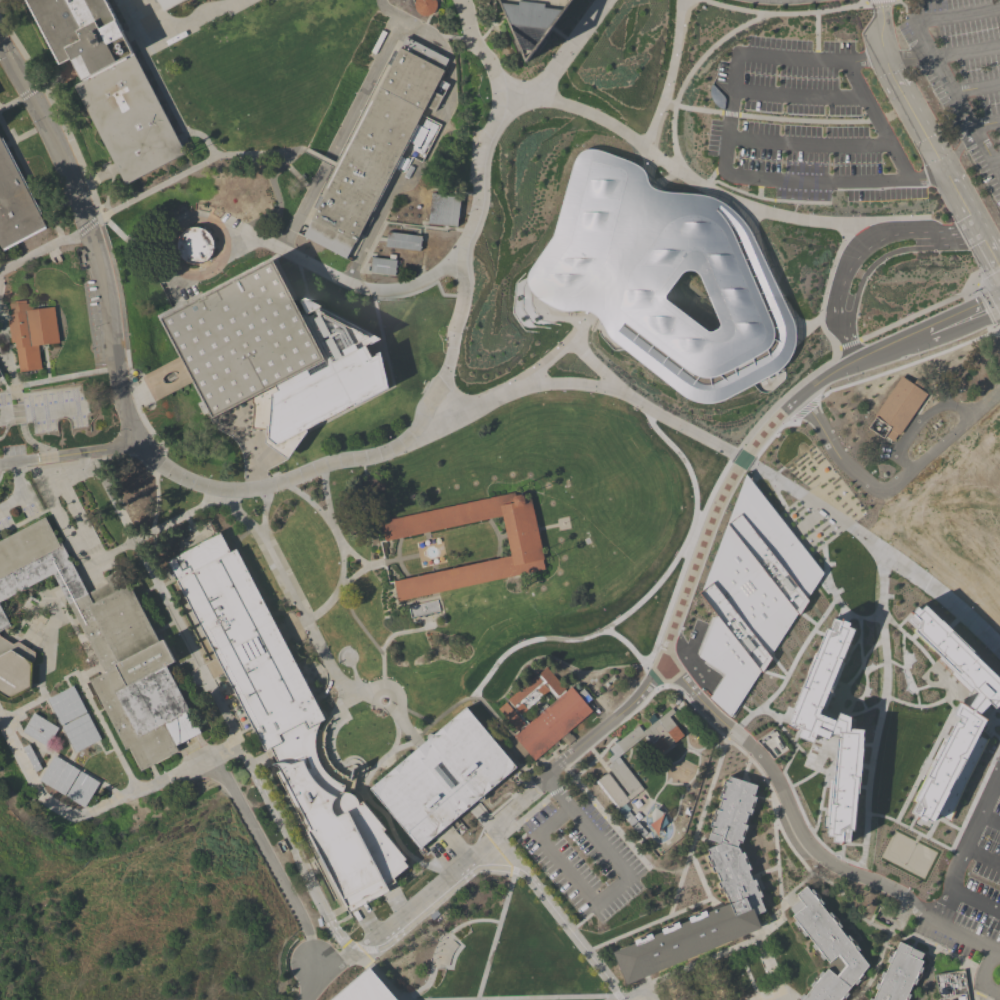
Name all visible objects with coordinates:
building: (169, 3)
road: (870, 4)
building: (423, 6)
road: (903, 8)
road: (775, 13)
road: (429, 15)
road: (125, 17)
road: (188, 21)
building: (530, 21)
road: (490, 23)
road: (498, 23)
road: (409, 26)
street lamp: (458, 33)
road: (815, 35)
road: (437, 37)
road: (468, 38)
road: (104, 46)
road: (96, 52)
road: (967, 52)
road: (937, 62)
road: (557, 66)
road: (690, 73)
parking lot: (962, 74)
building: (109, 83)
road: (41, 87)
road: (977, 89)
road: (798, 91)
road: (18, 98)
street lamp: (484, 99)
road: (168, 101)
street lamp: (537, 117)
road: (769, 117)
road: (914, 117)
road: (876, 121)
parking lot: (806, 122)
road: (986, 124)
road: (181, 136)
road: (807, 145)
building: (376, 146)
road: (267, 151)
road: (725, 152)
road: (320, 157)
road: (277, 158)
road: (996, 160)
road: (25, 170)
road: (93, 178)
road: (164, 181)
road: (273, 188)
road: (722, 191)
road: (463, 193)
building: (16, 203)
street lamp: (190, 208)
building: (443, 209)
street lamp: (217, 215)
street lamp: (164, 218)
road: (296, 220)
road: (86, 224)
road: (112, 226)
road: (434, 228)
road: (446, 228)
road: (460, 229)
road: (102, 230)
road: (277, 230)
road: (242, 233)
road: (59, 234)
road: (91, 238)
road: (252, 240)
building: (403, 240)
road: (625, 240)
building: (194, 245)
road: (162, 247)
road: (987, 248)
road: (861, 250)
road: (37, 252)
road: (166, 252)
street lamp: (44, 255)
road: (422, 255)
road: (877, 260)
building: (383, 265)
street lamp: (14, 271)
road: (391, 276)
building: (672, 277)
street lamp: (445, 279)
road: (406, 281)
road: (304, 286)
road: (824, 286)
street lamp: (468, 291)
road: (440, 293)
street lamp: (413, 297)
street lamp: (513, 299)
street lamp: (2, 302)
road: (988, 304)
road: (5, 316)
street lamp: (9, 321)
street lamp: (6, 324)
road: (6, 328)
street lamp: (94, 329)
road: (928, 331)
building: (31, 332)
road: (2, 334)
road: (7, 336)
street lamp: (442, 340)
road: (170, 343)
road: (10, 346)
road: (375, 347)
building: (273, 355)
road: (4, 363)
road: (46, 363)
road: (450, 363)
road: (13, 367)
building: (0, 371)
road: (178, 372)
road: (71, 376)
road: (863, 378)
road: (180, 381)
road: (7, 387)
road: (605, 389)
road: (15, 391)
parking lot: (4, 400)
road: (354, 405)
building: (899, 405)
parking lot: (52, 407)
road: (37, 411)
road: (442, 415)
road: (919, 417)
road: (10, 425)
street lamp: (114, 433)
road: (748, 435)
street lamp: (389, 438)
parking lot: (12, 450)
road: (88, 452)
road: (81, 457)
road: (91, 460)
road: (18, 461)
road: (683, 461)
road: (160, 462)
street lamp: (297, 464)
road: (14, 469)
road: (364, 469)
road: (4, 470)
street lamp: (211, 477)
street lamp: (159, 482)
building: (370, 484)
road: (876, 488)
park: (131, 489)
road: (21, 492)
road: (54, 492)
road: (324, 493)
road: (155, 500)
road: (71, 505)
road: (818, 506)
road: (54, 510)
parking lot: (20, 516)
road: (263, 517)
road: (177, 518)
street lamp: (149, 521)
flagpole: (563, 524)
road: (443, 526)
road: (493, 526)
road: (191, 528)
road: (534, 529)
road: (76, 532)
road: (503, 536)
road: (509, 536)
road: (240, 537)
road: (427, 537)
building: (980, 538)
building: (948, 545)
road: (341, 546)
road: (398, 547)
building: (525, 548)
road: (498, 550)
fountain: (431, 553)
road: (99, 555)
road: (354, 555)
building: (196, 556)
road: (403, 559)
road: (441, 559)
building: (36, 561)
road: (434, 568)
road: (692, 569)
road: (403, 571)
road: (358, 572)
road: (454, 572)
road: (89, 574)
road: (60, 590)
road: (147, 590)
road: (291, 591)
road: (648, 591)
building: (751, 594)
street lamp: (37, 600)
road: (406, 604)
road: (39, 605)
road: (169, 607)
building: (423, 609)
road: (35, 612)
road: (33, 614)
road: (820, 616)
road: (427, 617)
road: (37, 618)
road: (355, 618)
building: (3, 620)
street lamp: (432, 621)
road: (33, 622)
street lamp: (423, 622)
road: (49, 624)
road: (36, 625)
street lamp: (25, 626)
road: (165, 626)
road: (293, 626)
road: (44, 629)
road: (45, 630)
road: (6, 634)
road: (49, 634)
street lamp: (177, 635)
road: (390, 637)
road: (37, 638)
road: (553, 638)
road: (27, 639)
road: (37, 640)
road: (81, 640)
road: (32, 641)
road: (31, 645)
road: (47, 646)
road: (45, 654)
road: (927, 657)
road: (187, 660)
building: (14, 667)
road: (211, 669)
road: (532, 669)
building: (134, 673)
road: (595, 685)
road: (35, 686)
street lamp: (404, 687)
street lamp: (81, 691)
street lamp: (334, 692)
road: (504, 699)
road: (34, 700)
street lamp: (210, 700)
street lamp: (482, 700)
road: (372, 701)
building: (66, 705)
road: (340, 706)
road: (674, 710)
building: (952, 711)
road: (490, 712)
road: (395, 713)
building: (544, 713)
road: (416, 715)
road: (879, 715)
road: (772, 717)
road: (397, 719)
road: (707, 721)
road: (100, 723)
street lamp: (413, 726)
road: (656, 726)
street lamp: (224, 727)
building: (40, 729)
building: (290, 729)
road: (61, 730)
road: (408, 730)
building: (832, 731)
building: (80, 732)
road: (646, 733)
road: (331, 737)
road: (639, 737)
road: (606, 738)
street lamp: (721, 738)
road: (607, 744)
parking lot: (189, 745)
road: (405, 745)
road: (685, 747)
road: (654, 750)
road: (39, 752)
road: (103, 752)
road: (682, 752)
street lamp: (793, 753)
street lamp: (405, 755)
road: (628, 756)
building: (31, 757)
street lamp: (115, 757)
road: (596, 758)
building: (612, 758)
road: (696, 758)
road: (60, 759)
road: (925, 759)
road: (258, 760)
road: (556, 760)
road: (360, 762)
road: (537, 763)
street lamp: (745, 764)
road: (360, 767)
road: (746, 769)
road: (43, 770)
street lamp: (164, 772)
road: (269, 772)
road: (577, 772)
building: (59, 774)
road: (154, 775)
road: (445, 775)
building: (442, 777)
road: (663, 777)
street lamp: (783, 777)
street lamp: (378, 778)
street lamp: (762, 781)
road: (673, 783)
road: (998, 786)
building: (82, 788)
road: (636, 790)
road: (552, 791)
road: (681, 792)
road: (362, 793)
road: (645, 794)
road: (974, 795)
road: (762, 797)
road: (782, 797)
street lamp: (96, 801)
road: (501, 805)
road: (101, 806)
road: (630, 807)
road: (644, 808)
building: (622, 809)
road: (981, 816)
road: (521, 817)
road: (606, 817)
building: (633, 823)
road: (990, 823)
road: (486, 825)
road: (695, 826)
street lamp: (771, 828)
street lamp: (807, 828)
road: (809, 830)
road: (915, 831)
street lamp: (273, 835)
road: (399, 837)
road: (667, 838)
building: (280, 845)
road: (503, 847)
road: (267, 857)
road: (294, 857)
road: (119, 859)
parking lot: (582, 859)
road: (317, 862)
road: (981, 862)
street lamp: (845, 863)
street lamp: (291, 869)
road: (665, 871)
road: (763, 871)
road: (699, 873)
road: (329, 880)
building: (736, 880)
street lamp: (776, 880)
road: (777, 883)
road: (430, 886)
road: (795, 887)
road: (949, 887)
road: (611, 890)
road: (439, 891)
street lamp: (681, 891)
street lamp: (911, 891)
street lamp: (837, 895)
road: (974, 904)
street lamp: (311, 907)
road: (326, 915)
road: (734, 916)
road: (412, 921)
road: (579, 922)
road: (648, 923)
street lamp: (868, 925)
road: (603, 926)
road: (572, 929)
parking lot: (956, 931)
road: (496, 932)
road: (959, 933)
street lamp: (444, 936)
road: (900, 938)
street lamp: (439, 941)
street lamp: (615, 943)
street lamp: (888, 944)
road: (440, 945)
street lamp: (753, 945)
street lamp: (436, 948)
building: (826, 948)
road: (880, 951)
street lamp: (434, 954)
street lamp: (759, 958)
street lamp: (432, 961)
street lamp: (942, 963)
road: (768, 964)
road: (690, 966)
street lamp: (765, 972)
road: (747, 973)
building: (898, 973)
road: (928, 973)
road: (378, 975)
road: (985, 977)
road: (714, 980)
road: (309, 981)
street lamp: (772, 985)
building: (951, 986)
road: (649, 987)
building: (363, 988)
road: (670, 988)
road: (981, 992)
parking lot: (997, 992)
road: (767, 995)
road: (781, 995)
road: (613, 996)
road: (526, 997)
road: (757, 999)

